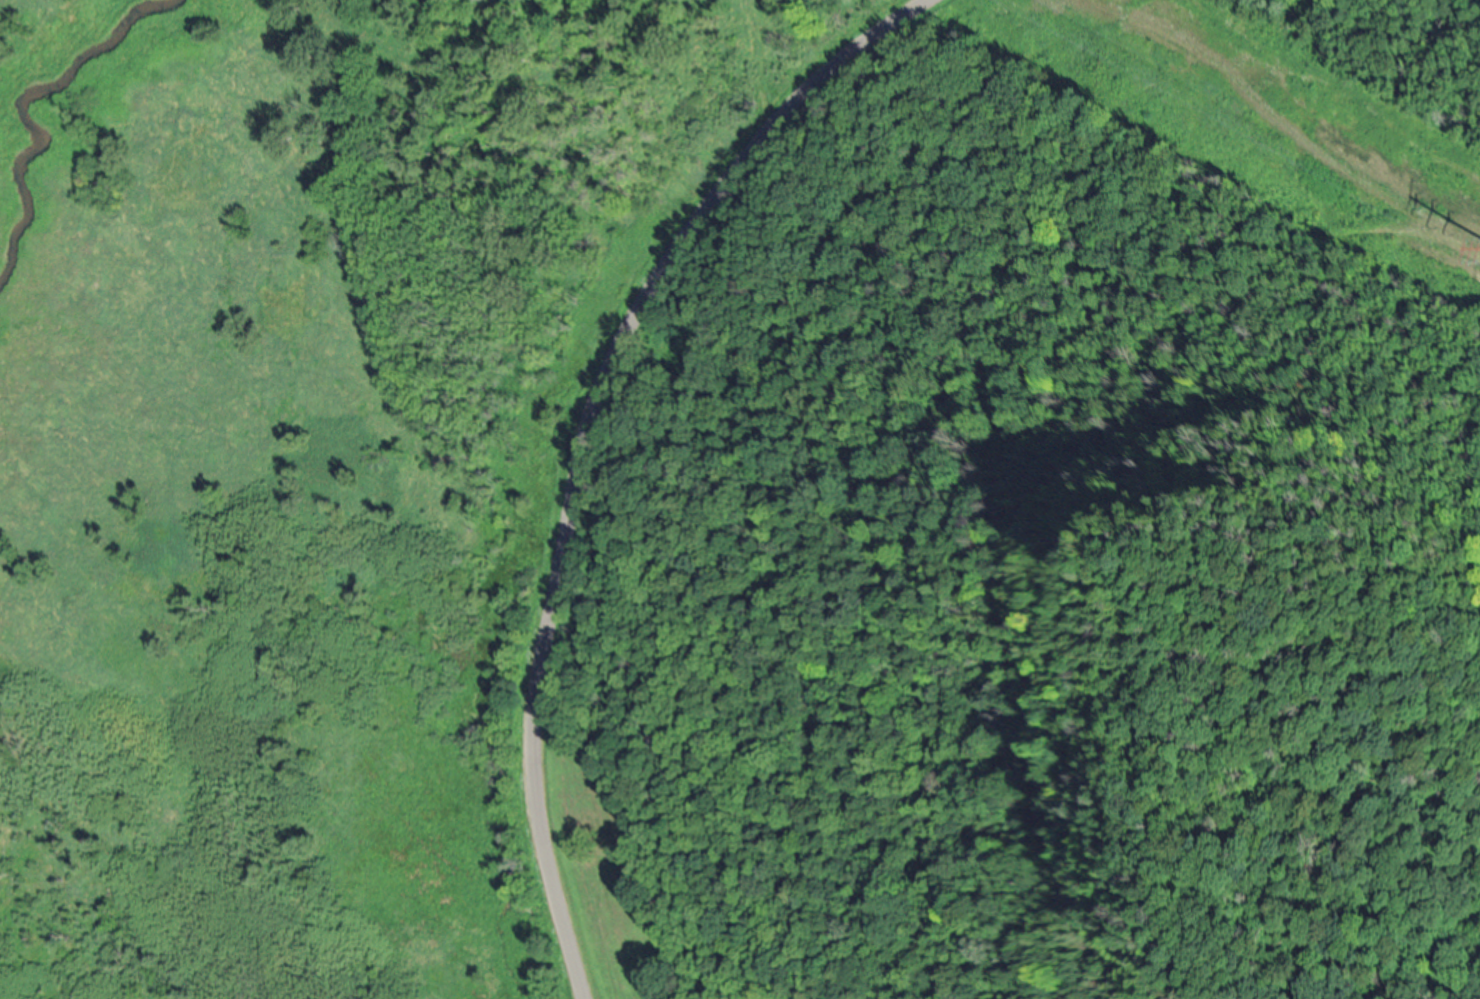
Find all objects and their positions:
road: (577, 440)

